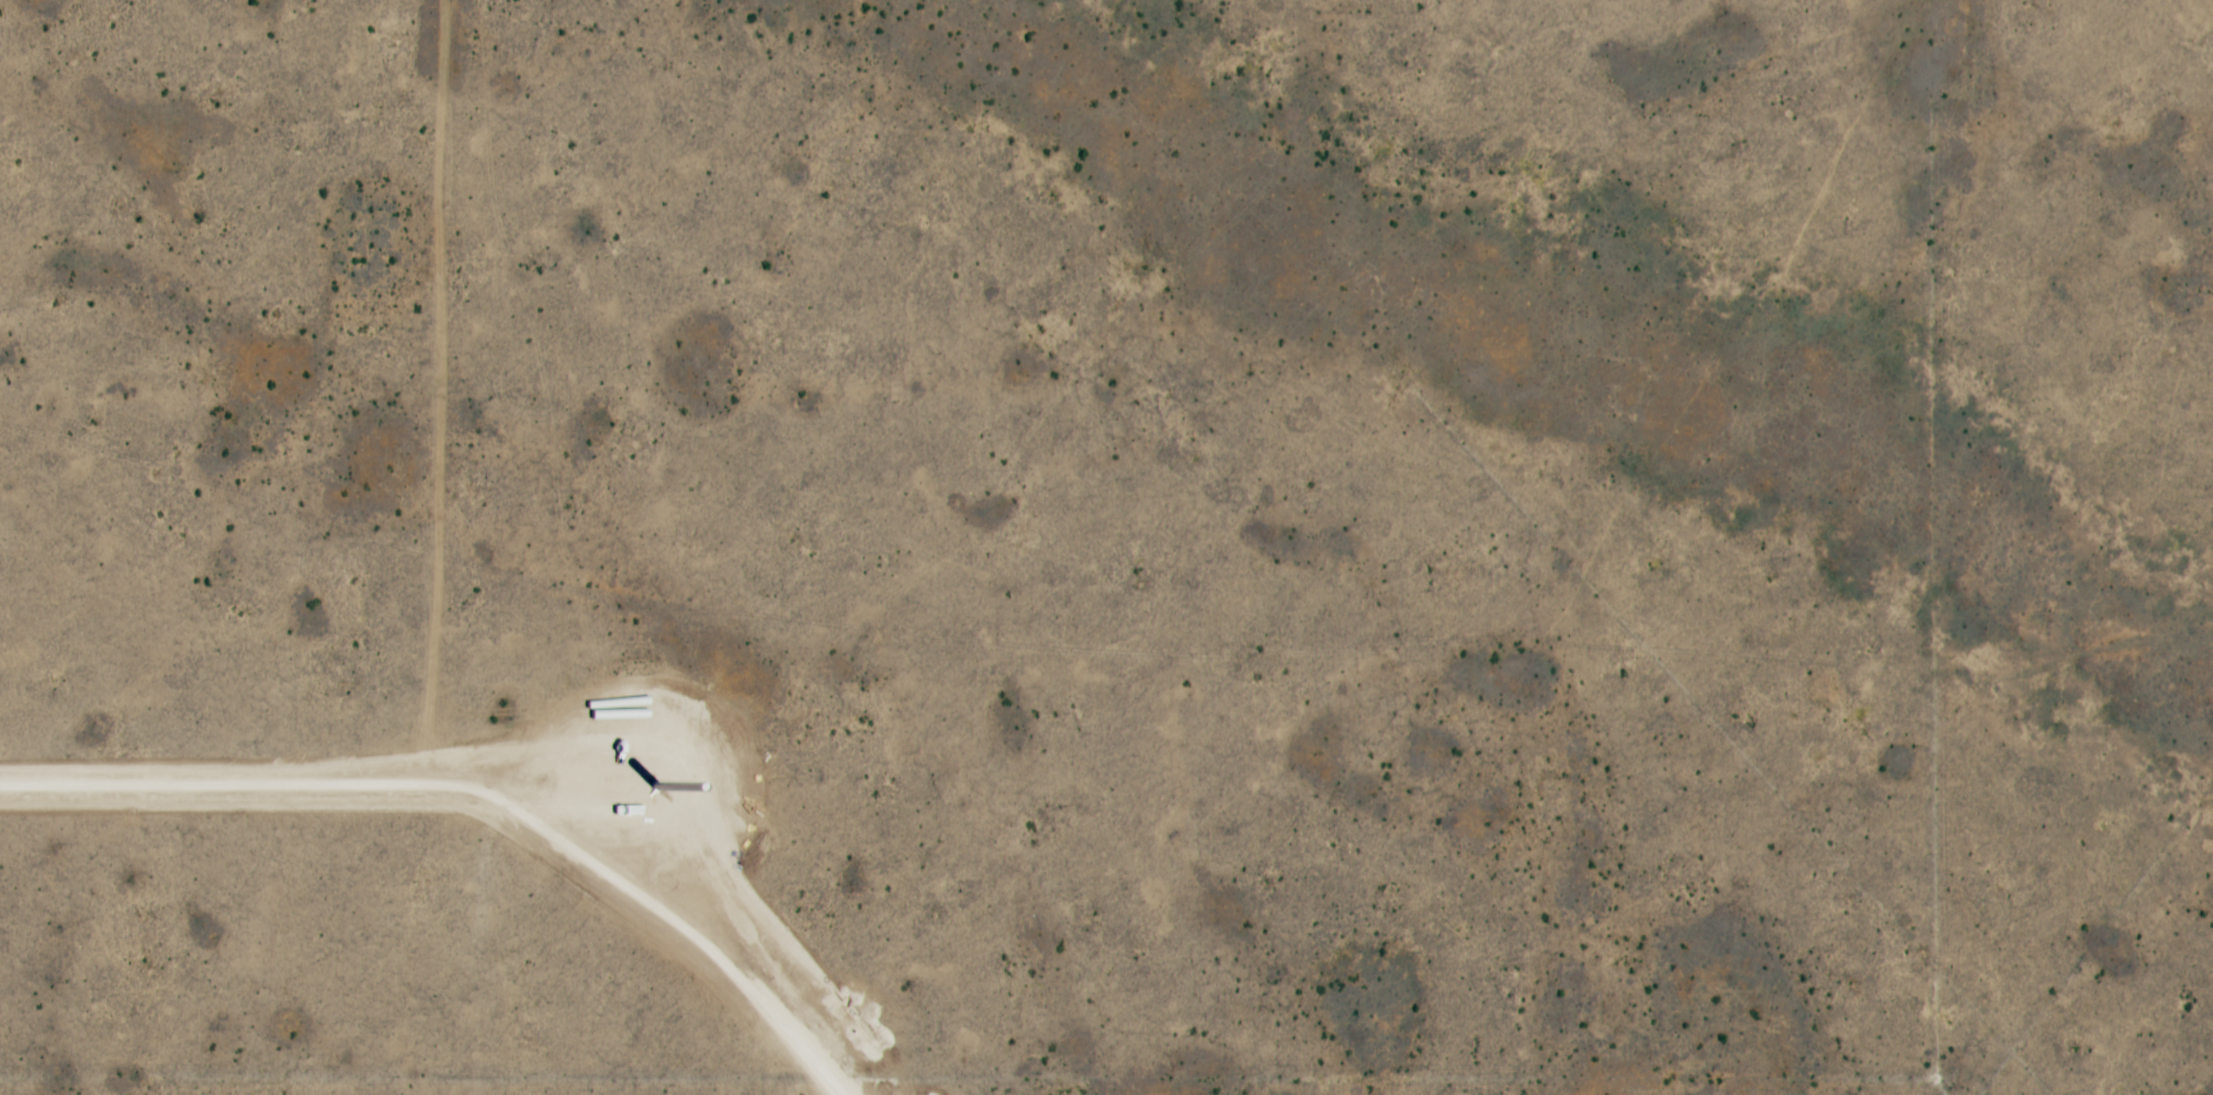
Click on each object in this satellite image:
wind turbine: (650, 784)

